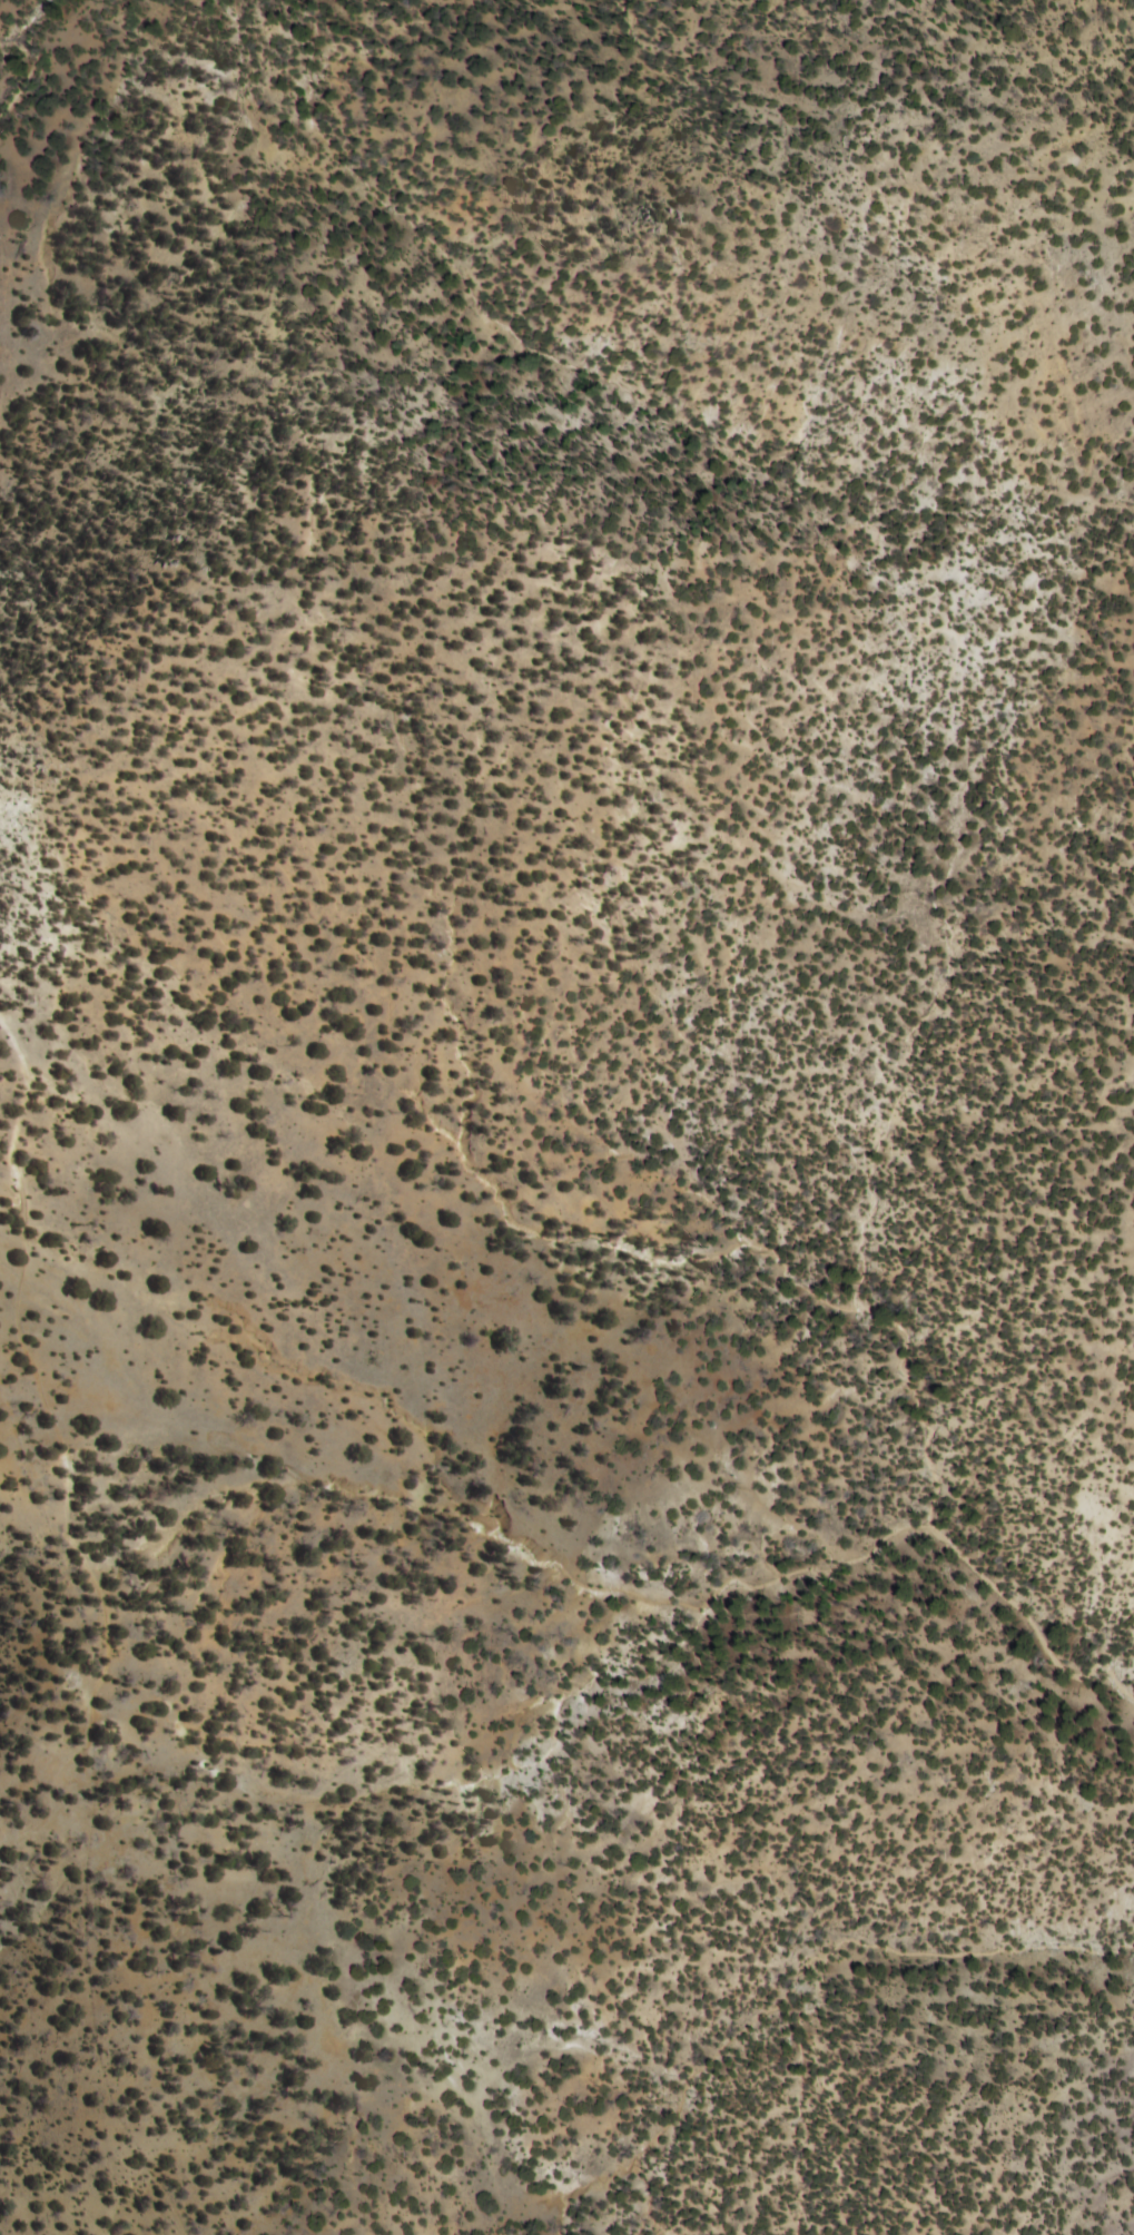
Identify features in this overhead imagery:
road: (62, 1449)

